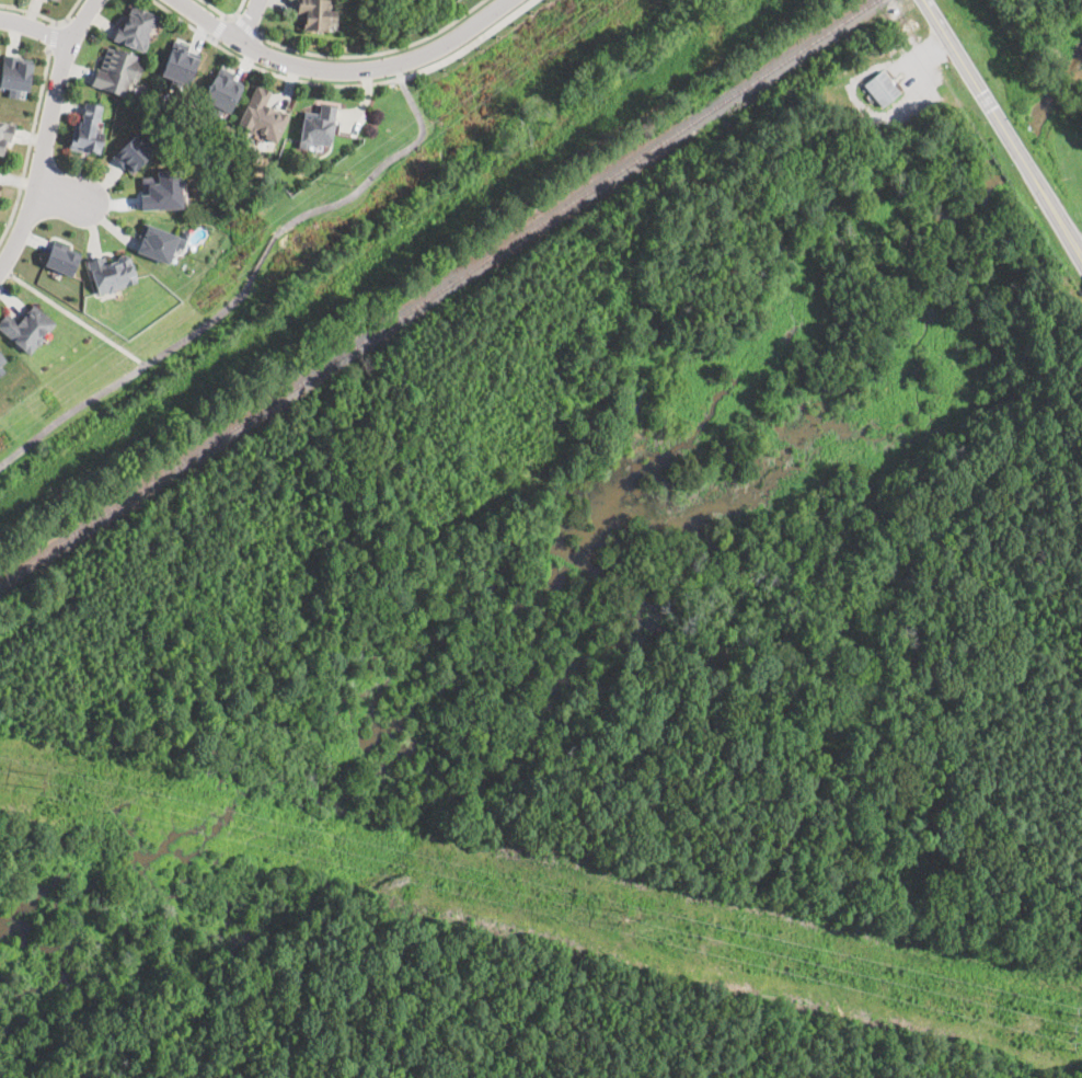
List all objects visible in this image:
building: (55, 0)
building: (316, 13)
road: (226, 15)
road: (45, 18)
road: (248, 20)
building: (136, 26)
road: (34, 27)
road: (246, 27)
road: (53, 37)
road: (469, 43)
road: (378, 54)
building: (180, 64)
road: (342, 69)
building: (117, 70)
road: (268, 71)
building: (14, 73)
building: (880, 88)
building: (222, 91)
building: (263, 115)
building: (318, 126)
road: (1003, 128)
building: (88, 129)
building: (5, 134)
road: (47, 134)
road: (31, 145)
building: (133, 152)
road: (377, 171)
power tower: (346, 177)
building: (162, 188)
road: (58, 193)
building: (158, 241)
road: (263, 256)
building: (61, 257)
building: (112, 272)
road: (73, 317)
building: (26, 326)
building: (1, 359)
building: (1, 370)
road: (129, 376)
power tower: (38, 777)
power tower: (619, 917)
power tower: (1070, 1030)

